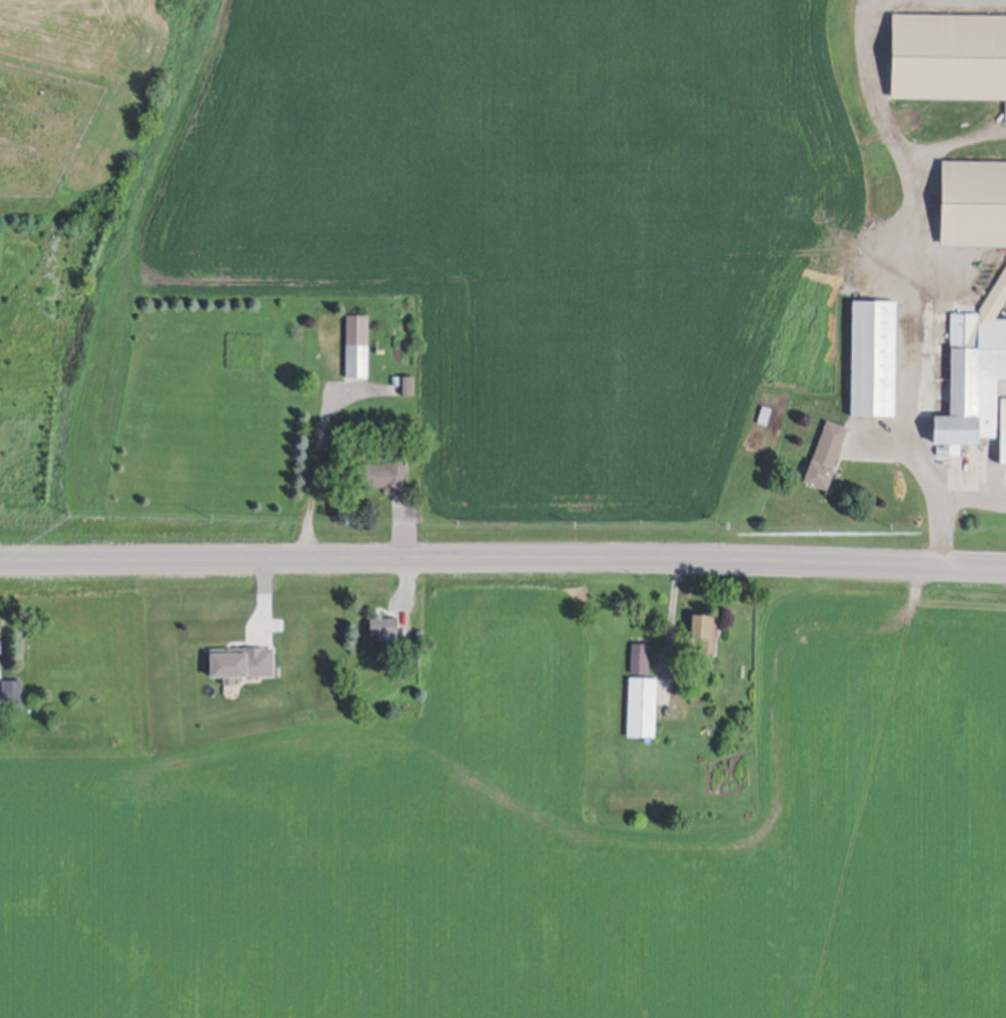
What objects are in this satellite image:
building: (948, 51)
building: (972, 198)
road: (921, 343)
building: (356, 344)
building: (872, 354)
building: (973, 371)
building: (407, 383)
building: (1003, 427)
building: (825, 452)
building: (385, 470)
road: (314, 473)
road: (954, 504)
road: (503, 554)
road: (671, 613)
building: (382, 625)
building: (704, 629)
building: (0, 631)
building: (639, 653)
building: (0, 658)
building: (241, 661)
building: (12, 693)
building: (695, 701)
building: (641, 706)
crop: (542, 843)

